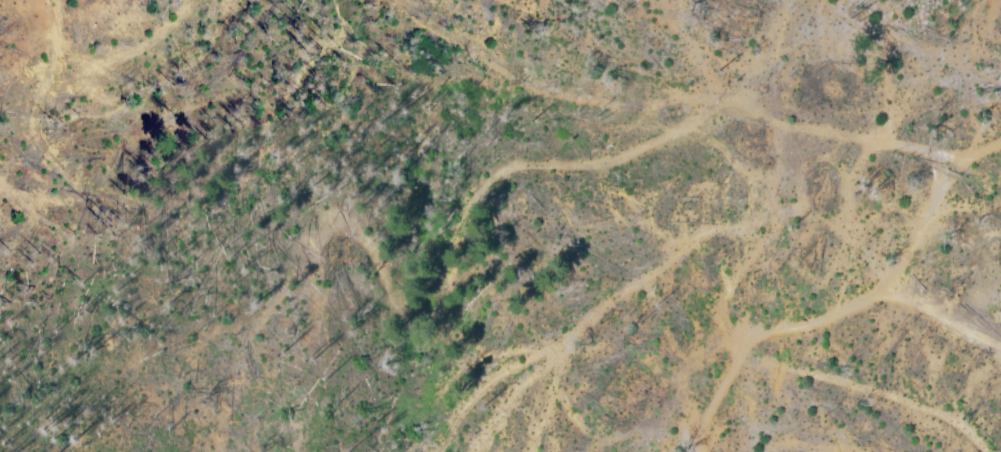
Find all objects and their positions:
road: (850, 304)

